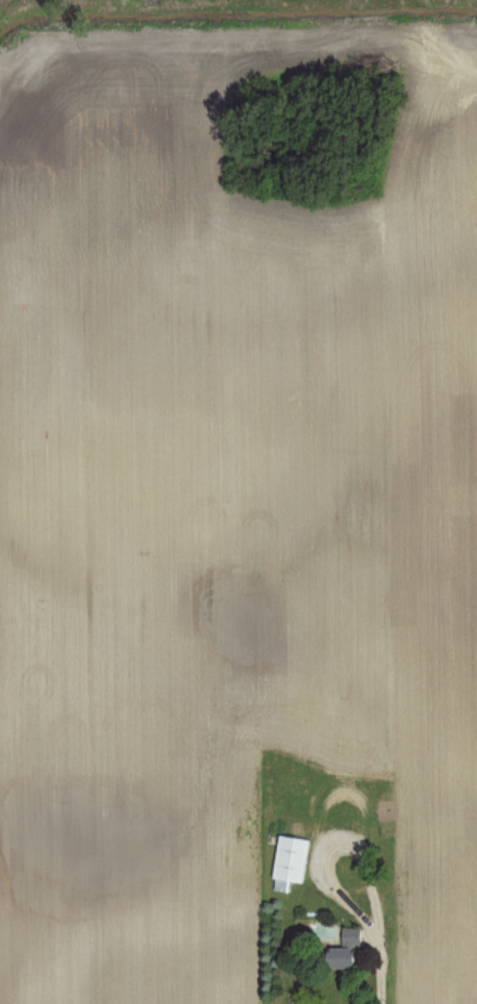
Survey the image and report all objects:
building: (290, 862)
road: (350, 888)
building: (344, 949)
road: (376, 966)

